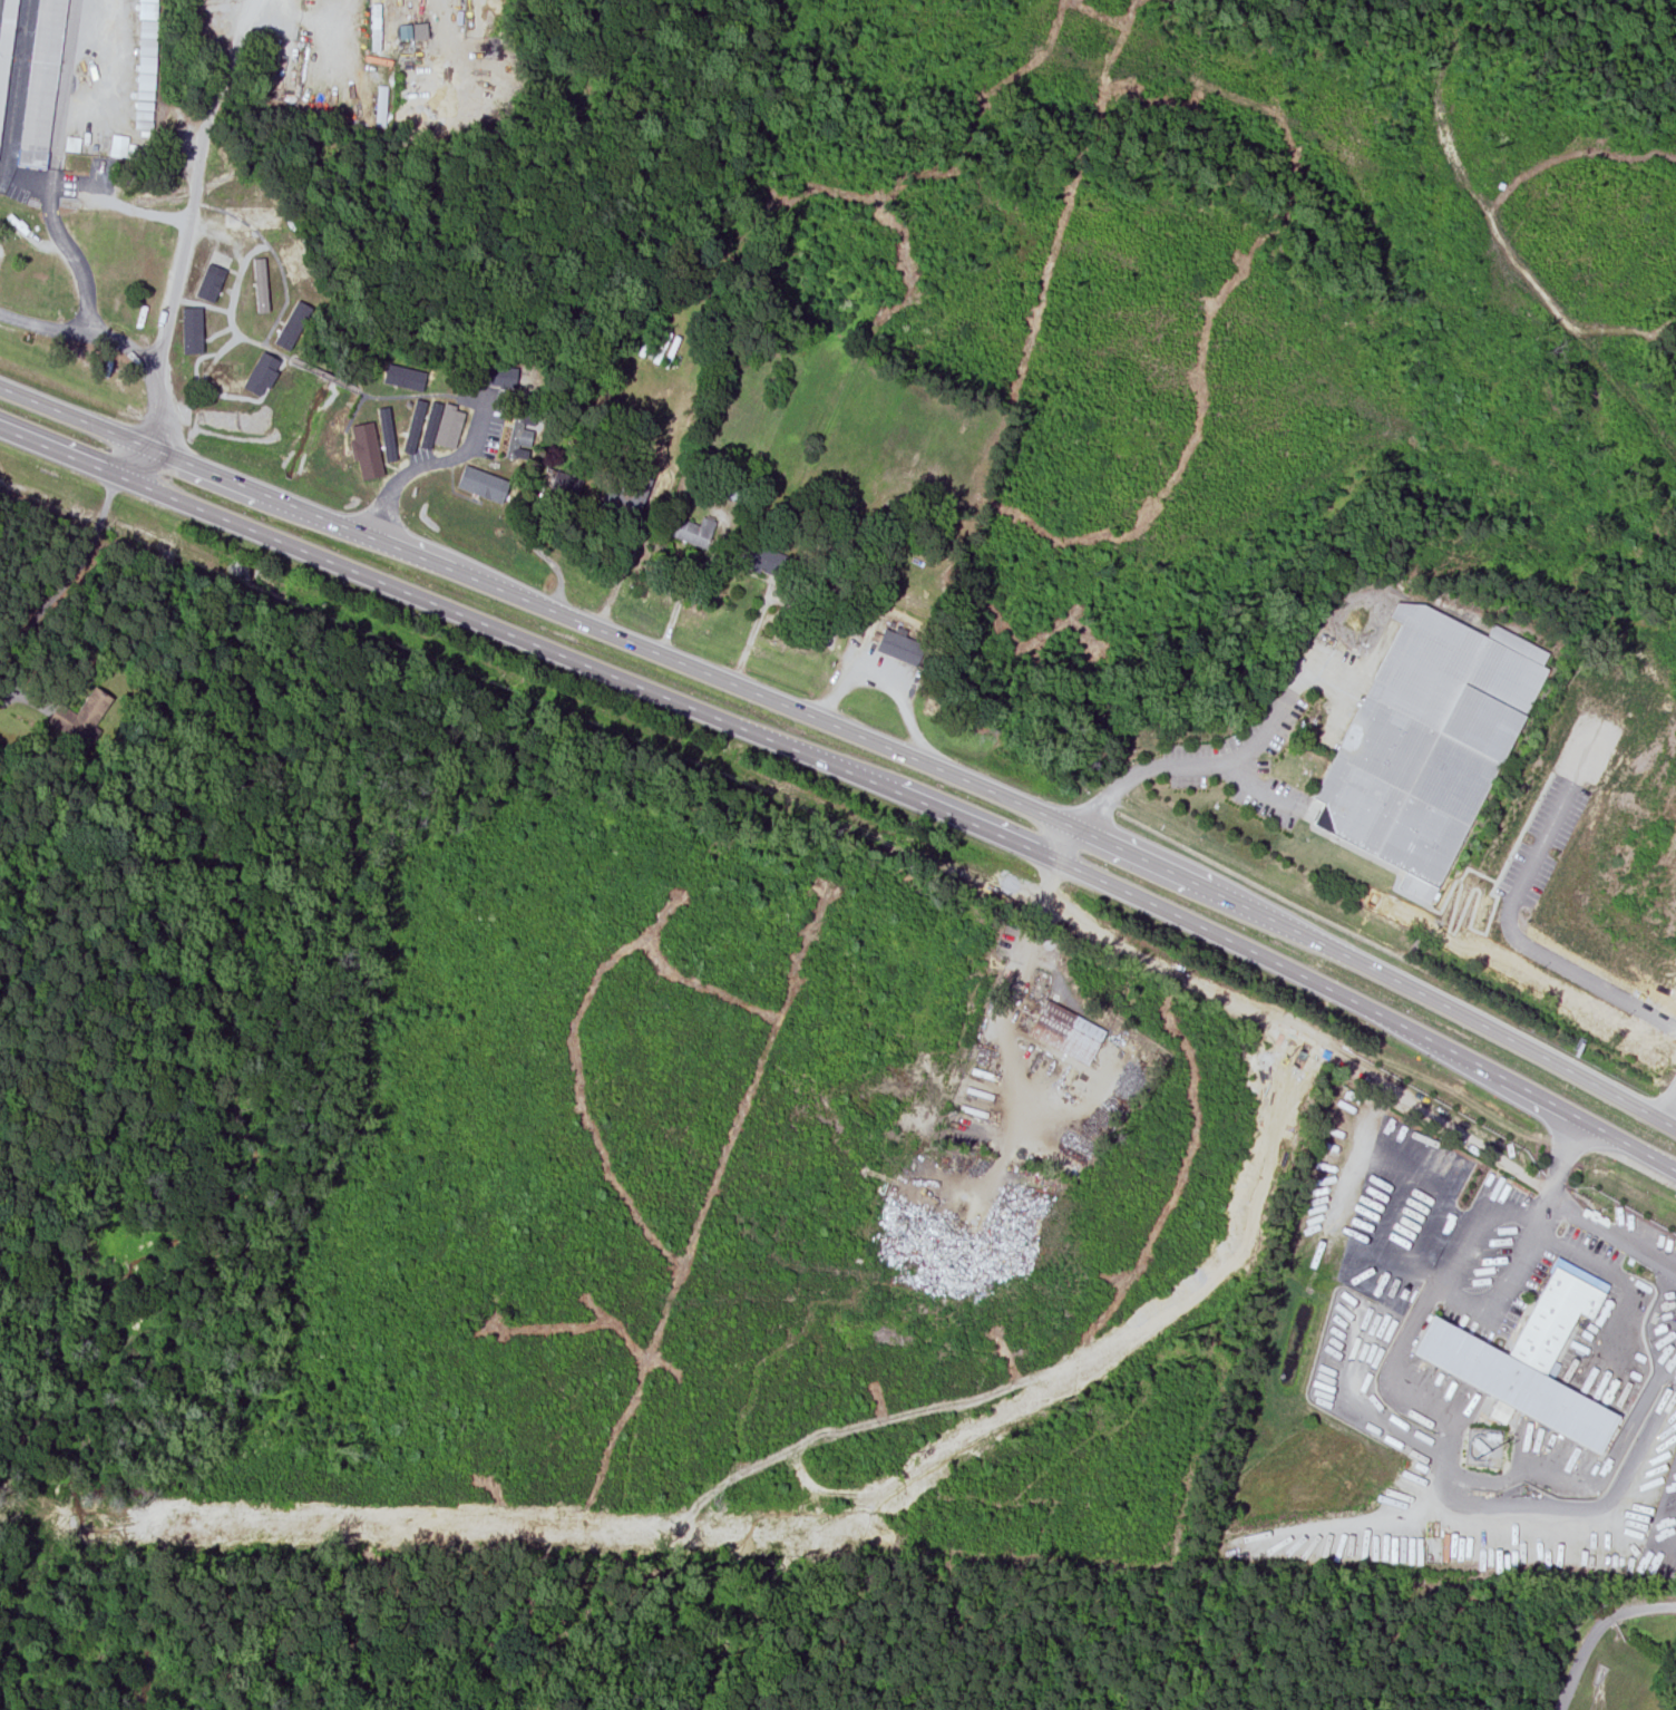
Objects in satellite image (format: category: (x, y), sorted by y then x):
building: (413, 31)
building: (4, 43)
building: (40, 82)
building: (380, 106)
building: (123, 147)
road: (56, 169)
road: (195, 185)
road: (139, 212)
building: (252, 216)
building: (293, 263)
building: (213, 276)
building: (260, 283)
building: (293, 326)
building: (193, 330)
road: (119, 344)
building: (262, 373)
building: (223, 375)
building: (403, 376)
building: (498, 377)
building: (430, 422)
building: (446, 425)
building: (413, 426)
building: (516, 434)
building: (386, 436)
road: (430, 464)
road: (145, 466)
building: (479, 478)
building: (565, 484)
building: (626, 498)
building: (690, 531)
building: (762, 560)
road: (60, 592)
building: (899, 647)
building: (79, 719)
road: (849, 730)
building: (1425, 742)
road: (852, 771)
road: (1212, 771)
road: (1066, 842)
road: (1506, 915)
building: (1065, 1033)
road: (1562, 1160)
road: (1473, 1228)
road: (1611, 1235)
building: (1555, 1314)
building: (1517, 1383)
road: (1438, 1444)
road: (1594, 1630)

